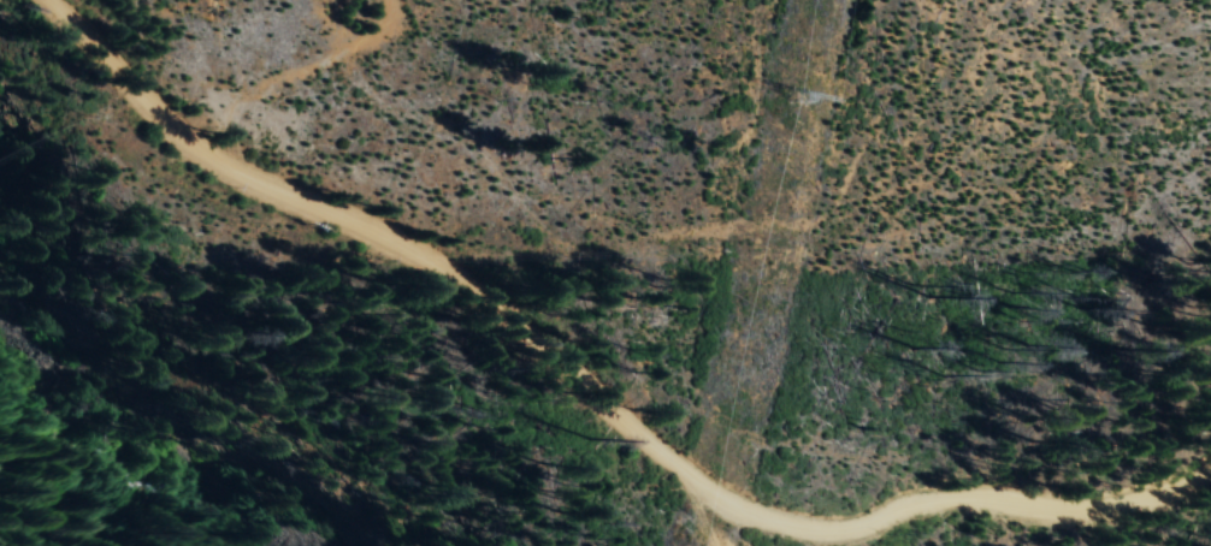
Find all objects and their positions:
power tower: (794, 99)
road: (575, 385)

